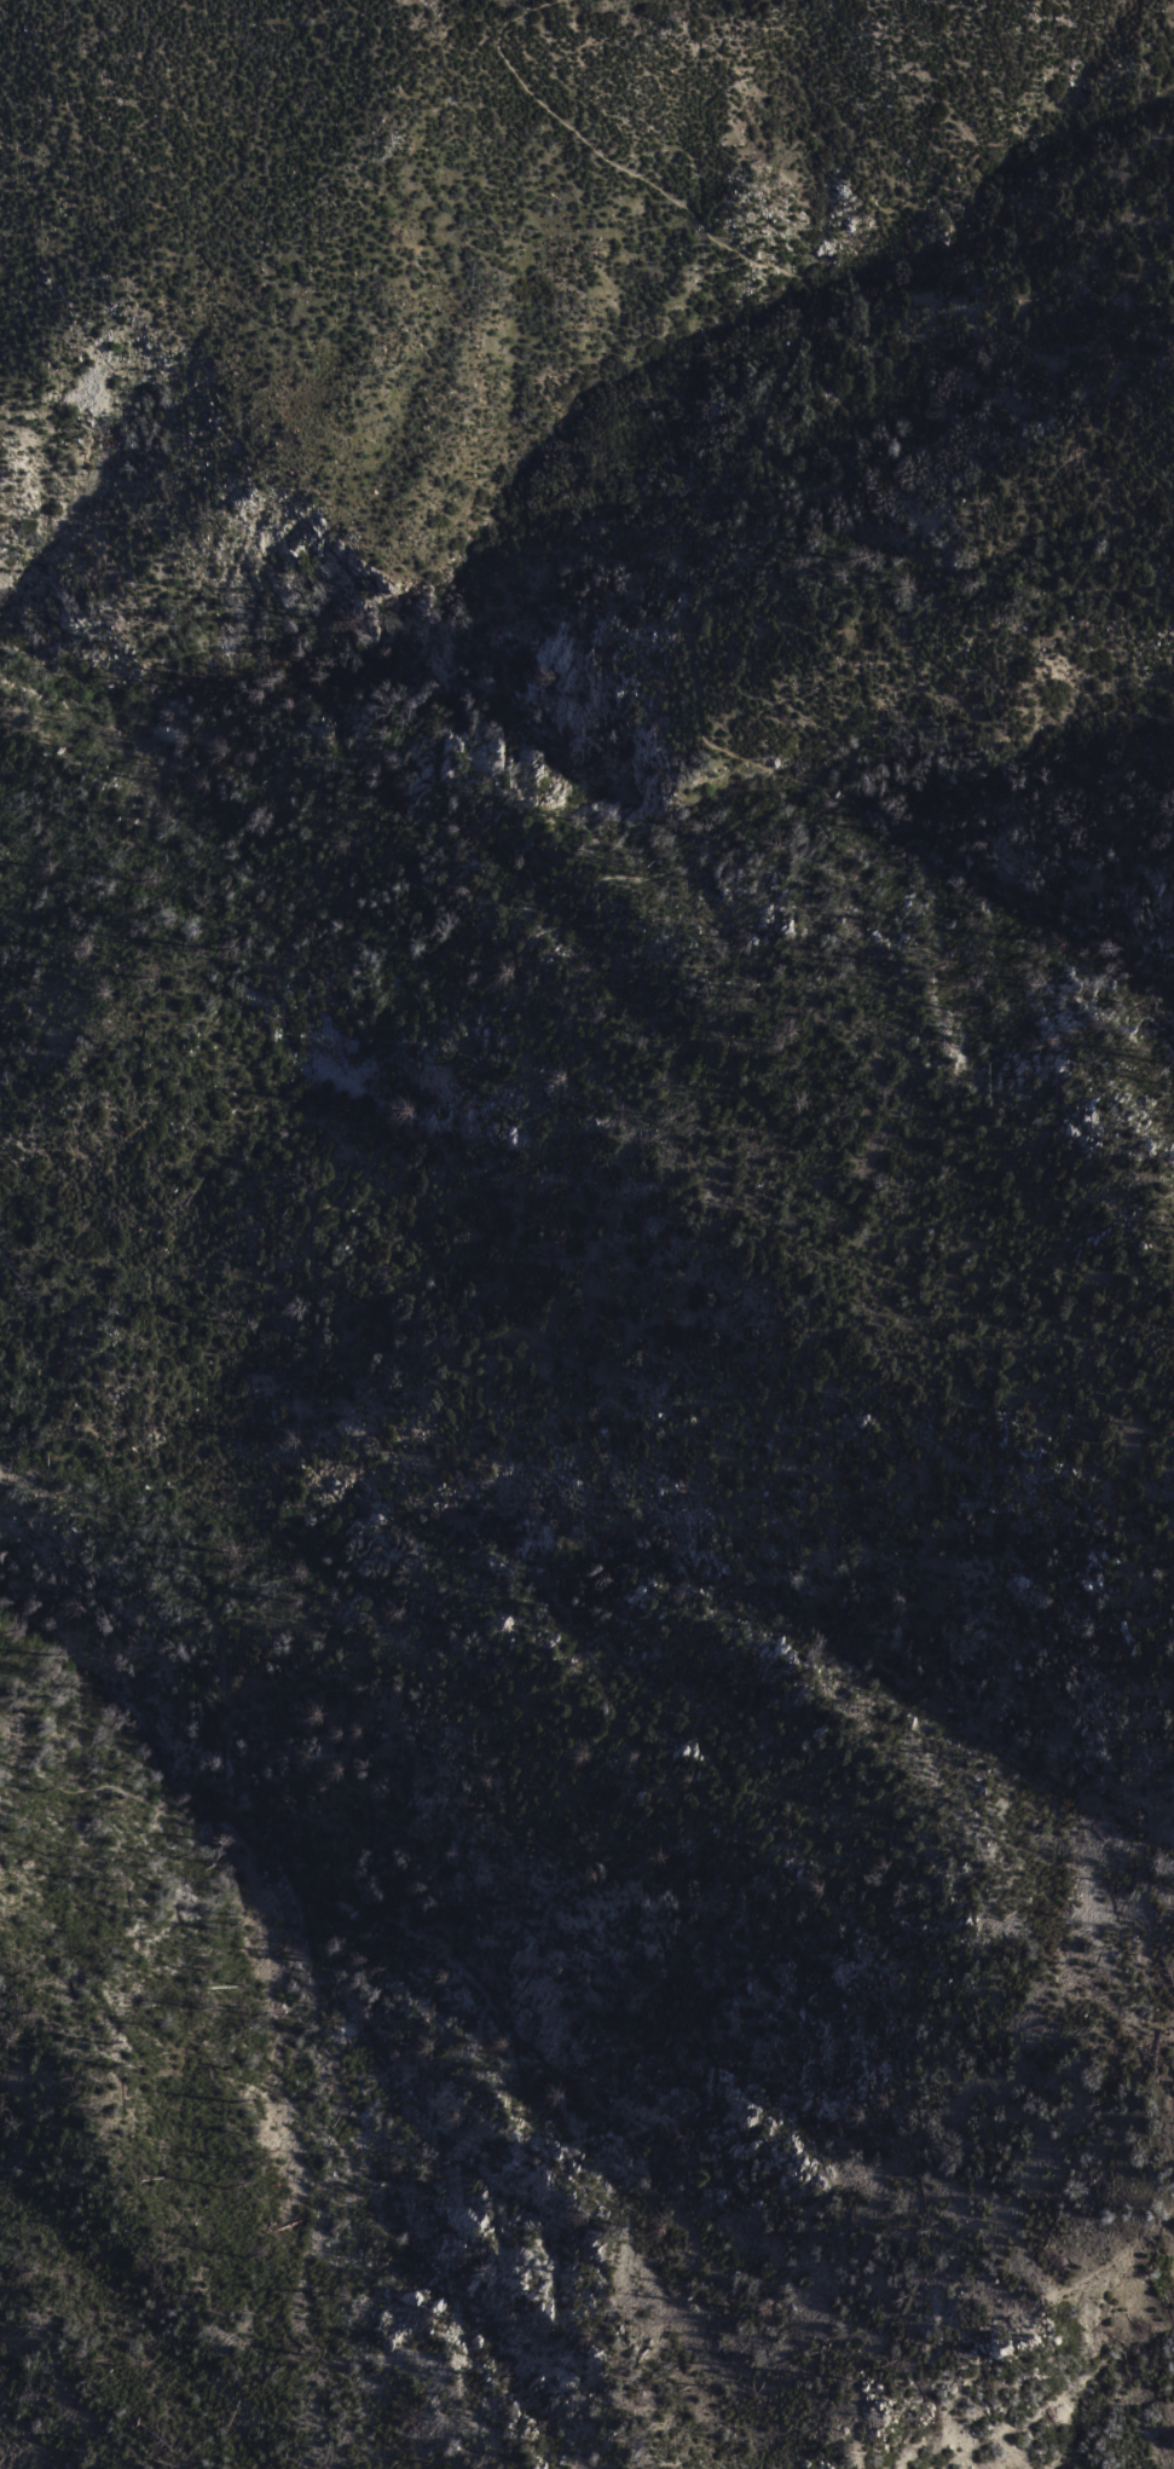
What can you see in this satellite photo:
road: (578, 920)

